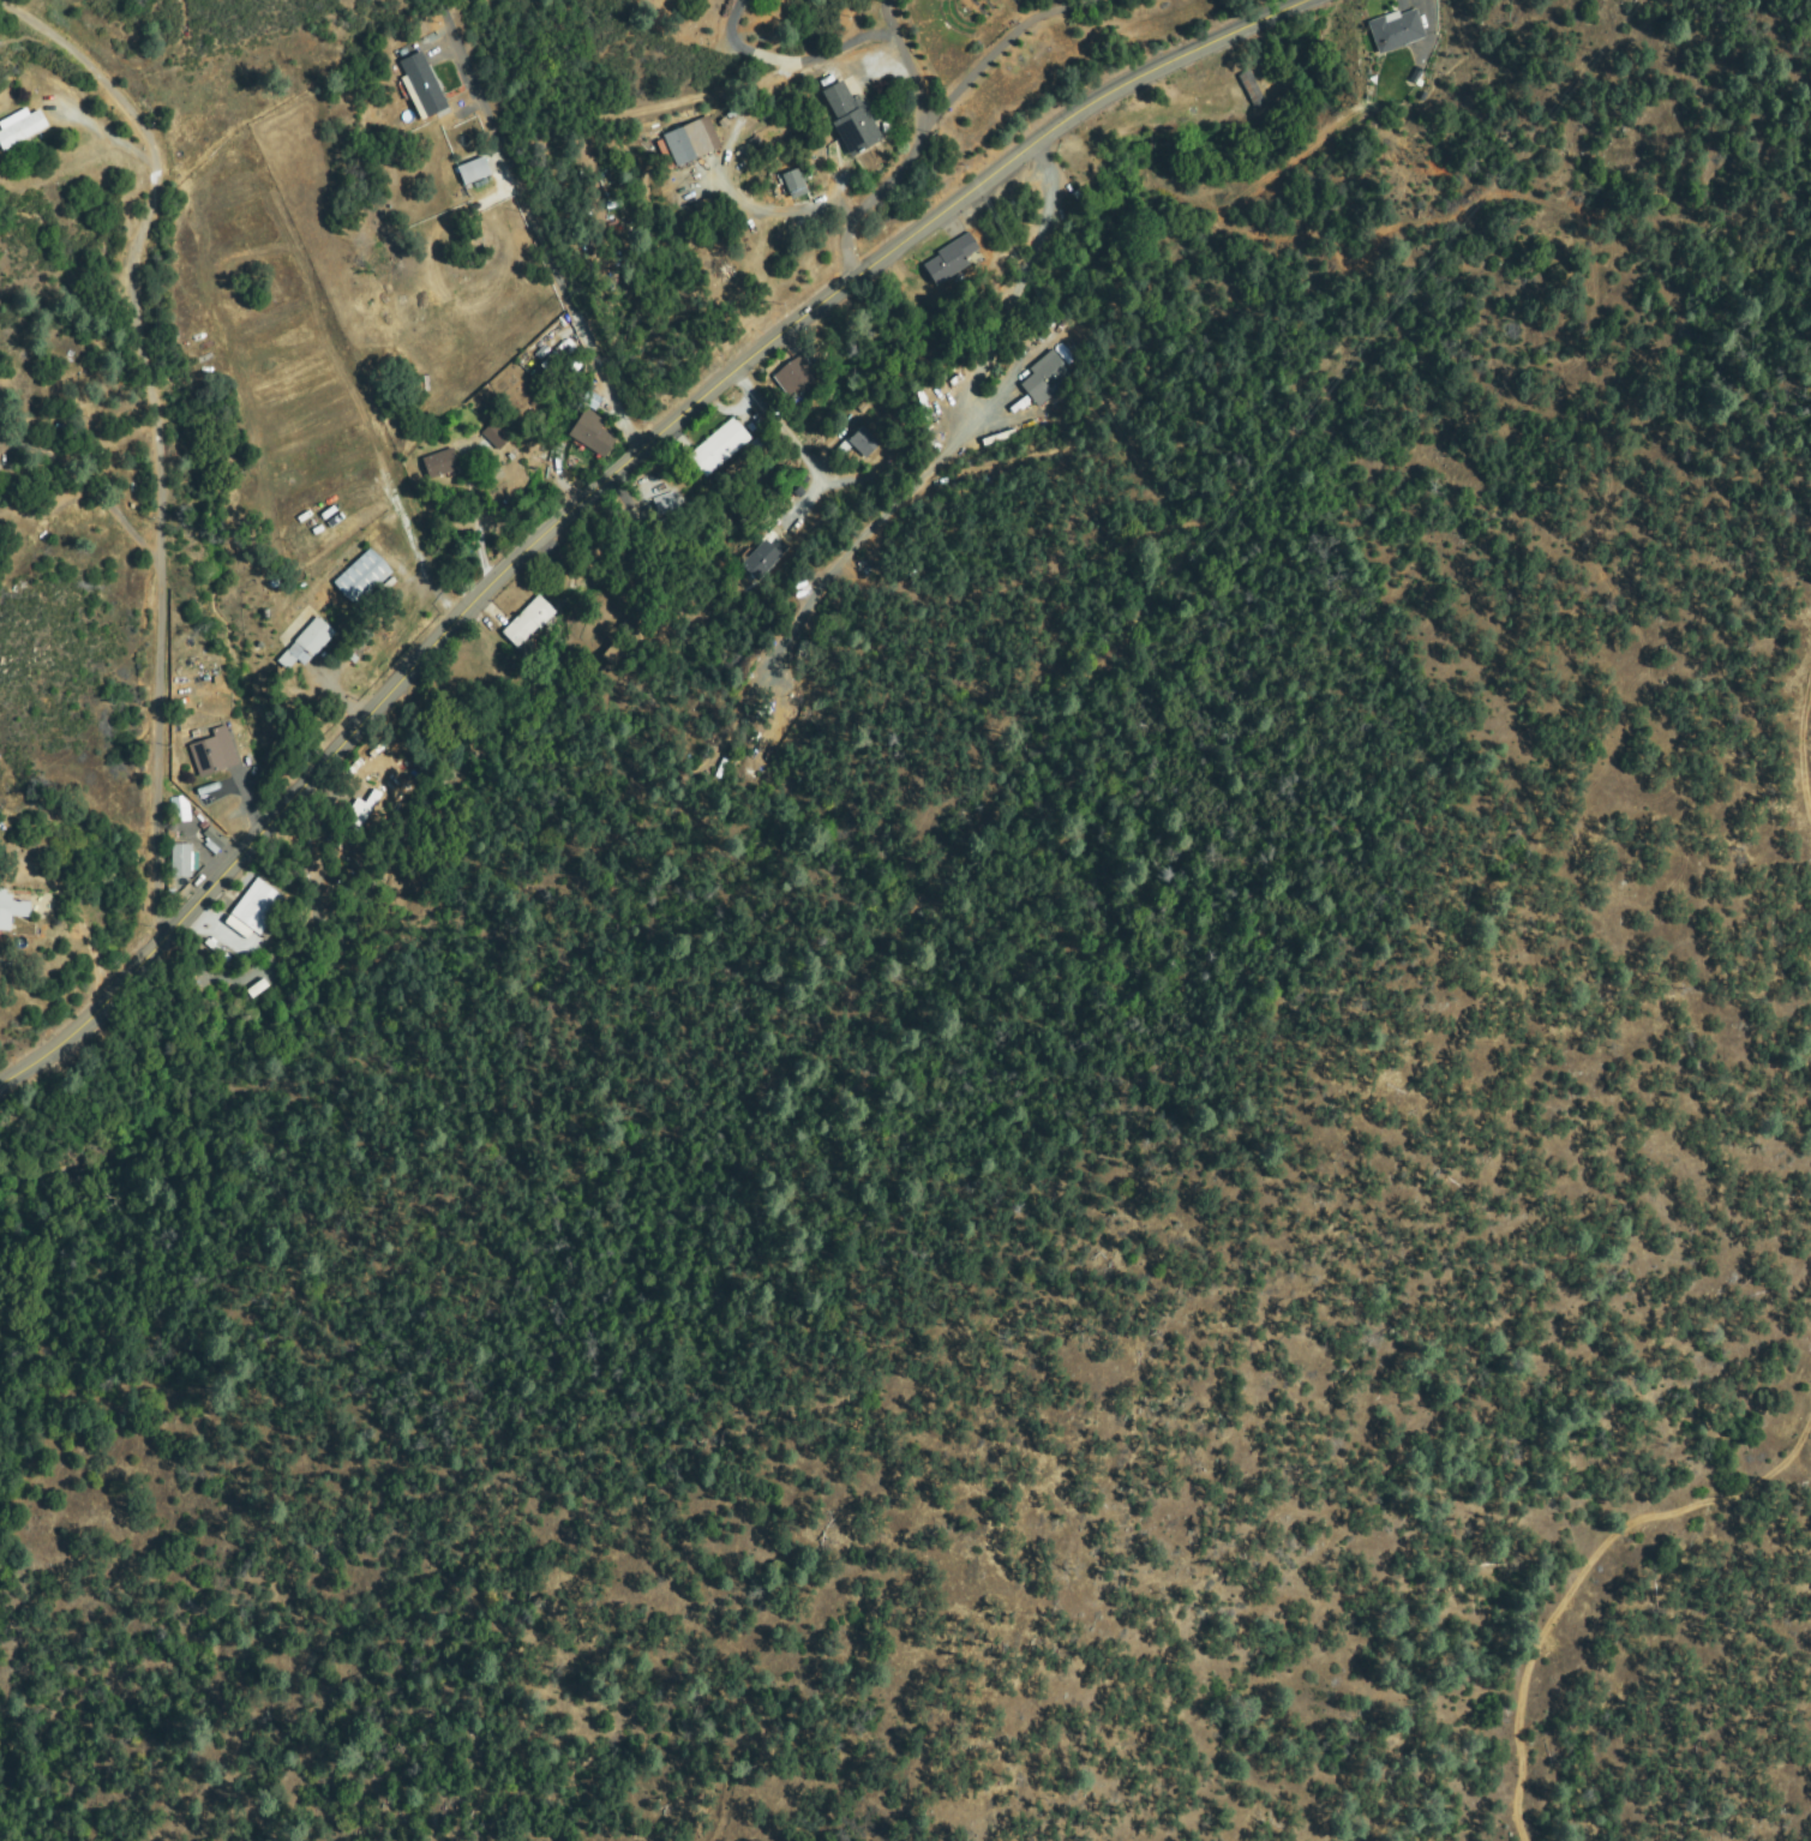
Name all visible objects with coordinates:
building: (1396, 31)
building: (421, 85)
building: (1252, 90)
building: (851, 120)
building: (18, 130)
building: (689, 142)
building: (468, 174)
building: (794, 181)
road: (541, 257)
building: (952, 258)
building: (793, 376)
building: (1044, 377)
building: (593, 434)
building: (498, 436)
building: (863, 443)
building: (719, 448)
building: (440, 464)
road: (607, 482)
building: (666, 503)
building: (760, 560)
building: (362, 578)
building: (527, 622)
building: (307, 644)
building: (612, 655)
building: (210, 755)
building: (364, 809)
building: (180, 810)
building: (215, 839)
building: (182, 860)
building: (258, 906)
building: (11, 911)
building: (238, 928)
building: (262, 989)

